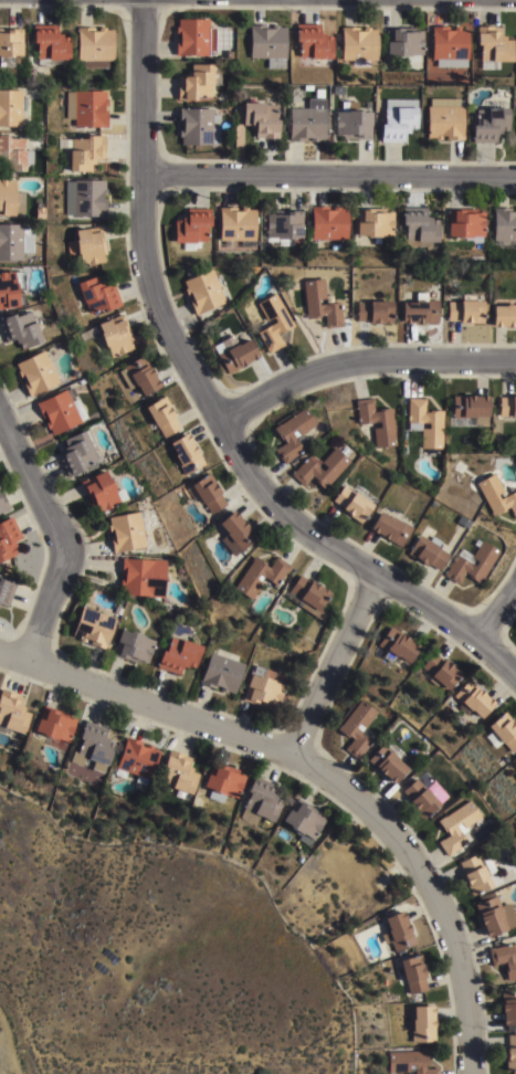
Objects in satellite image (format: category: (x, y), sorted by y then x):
building: (193, 38)
building: (404, 41)
building: (313, 42)
building: (50, 45)
building: (267, 45)
building: (359, 45)
building: (450, 45)
building: (494, 46)
building: (10, 48)
building: (94, 48)
building: (196, 82)
building: (87, 107)
building: (12, 108)
building: (444, 118)
building: (260, 119)
building: (306, 122)
building: (491, 123)
building: (398, 124)
building: (284, 125)
building: (352, 125)
building: (198, 127)
building: (84, 152)
building: (13, 154)
building: (1, 169)
road: (328, 177)
building: (85, 198)
building: (10, 200)
building: (40, 213)
building: (328, 223)
building: (375, 223)
building: (465, 223)
building: (420, 225)
building: (238, 227)
building: (282, 227)
building: (505, 227)
building: (191, 229)
building: (14, 242)
building: (88, 246)
building: (265, 249)
building: (11, 291)
building: (202, 292)
building: (98, 296)
building: (310, 305)
building: (420, 310)
building: (464, 310)
building: (373, 313)
building: (504, 317)
building: (273, 323)
building: (20, 330)
building: (116, 336)
building: (234, 355)
road: (360, 364)
building: (36, 373)
building: (76, 376)
building: (140, 377)
building: (81, 381)
road: (209, 406)
building: (507, 407)
building: (61, 411)
building: (471, 411)
building: (162, 418)
building: (377, 423)
building: (425, 423)
building: (292, 435)
building: (78, 455)
building: (187, 455)
building: (459, 466)
building: (319, 470)
building: (102, 494)
building: (207, 495)
building: (497, 497)
building: (354, 504)
building: (3, 505)
building: (463, 524)
building: (390, 530)
building: (128, 533)
road: (59, 535)
building: (236, 535)
building: (8, 540)
building: (428, 554)
building: (471, 564)
building: (261, 577)
building: (141, 578)
building: (4, 594)
building: (308, 596)
road: (496, 610)
building: (93, 624)
building: (133, 643)
building: (397, 643)
building: (179, 652)
road: (330, 666)
building: (441, 668)
building: (222, 671)
building: (264, 684)
building: (473, 697)
building: (12, 708)
building: (55, 722)
building: (356, 727)
building: (503, 730)
building: (94, 746)
building: (137, 758)
building: (387, 760)
building: (515, 761)
building: (180, 770)
road: (324, 775)
building: (224, 780)
building: (420, 797)
building: (261, 800)
building: (305, 819)
building: (457, 824)
building: (476, 872)
building: (495, 915)
building: (398, 930)
building: (505, 957)
building: (413, 973)
building: (508, 1004)
building: (423, 1023)
building: (510, 1051)
building: (410, 1062)

